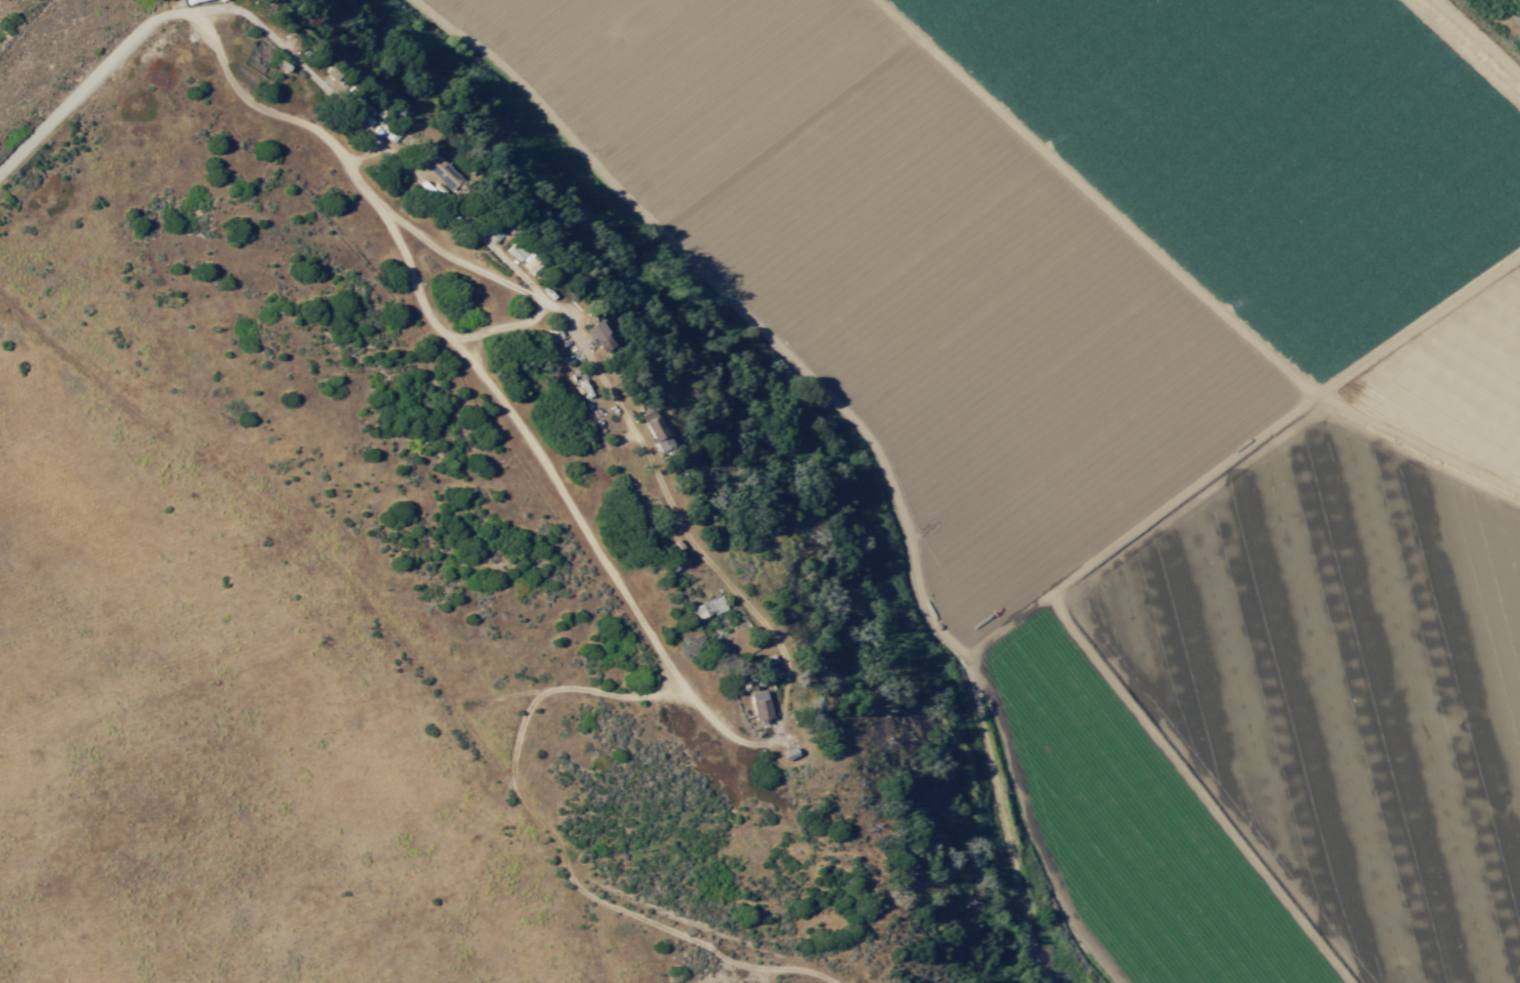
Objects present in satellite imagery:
road: (344, 104)
building: (439, 170)
building: (518, 253)
building: (600, 336)
crop: (1147, 418)
building: (654, 430)
building: (708, 607)
building: (759, 706)

